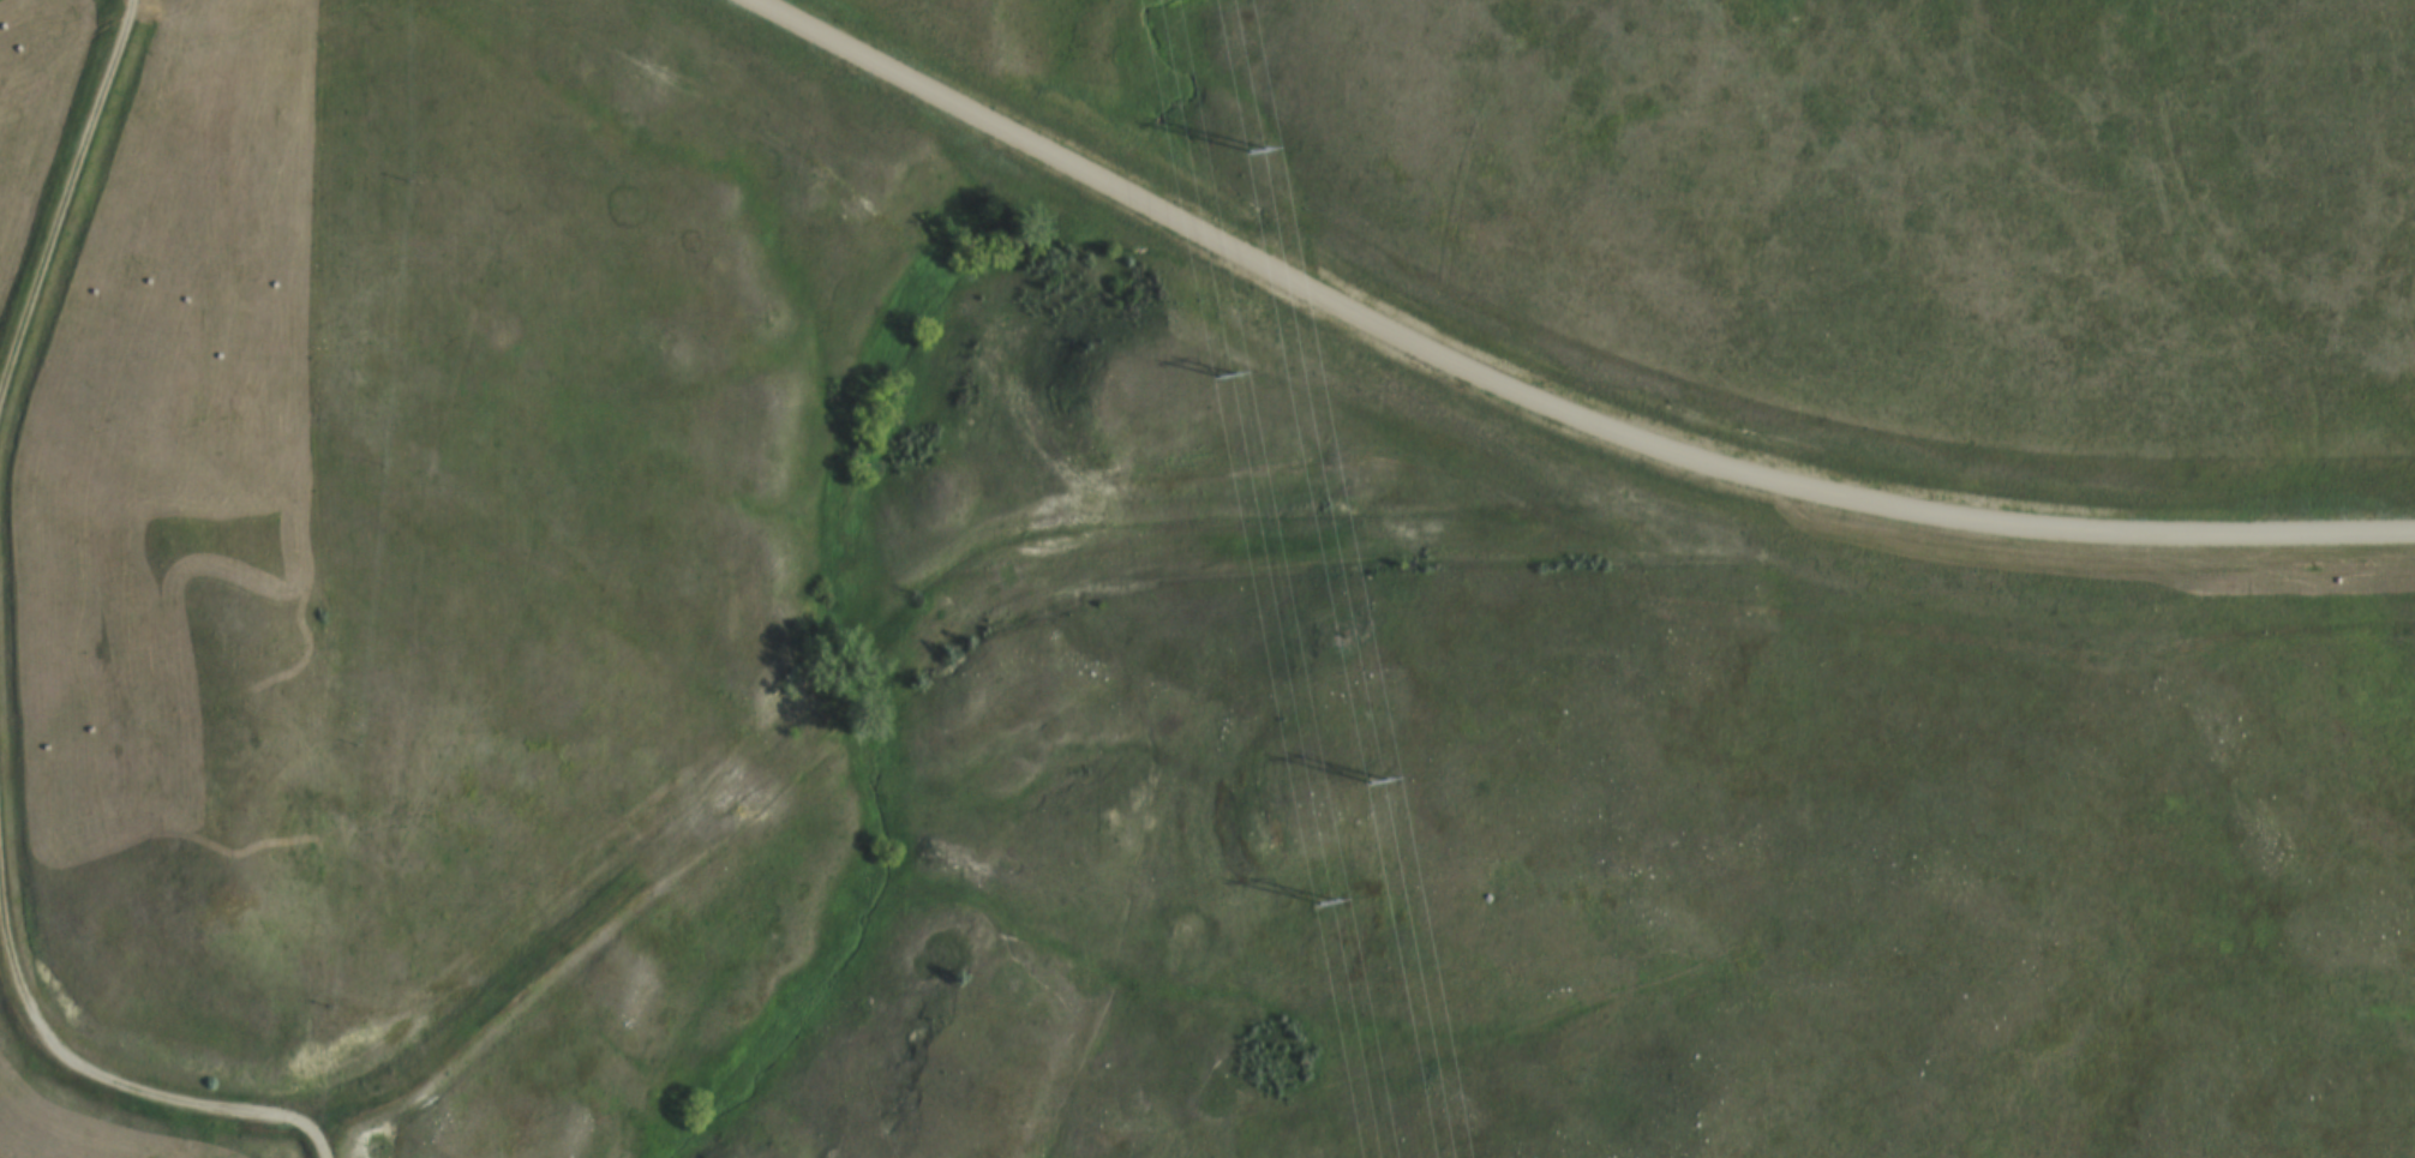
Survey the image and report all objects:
power tower: (1258, 156)
road: (65, 204)
power tower: (1227, 386)
road: (1539, 401)
power tower: (1376, 787)
power tower: (1325, 910)
road: (142, 1087)

